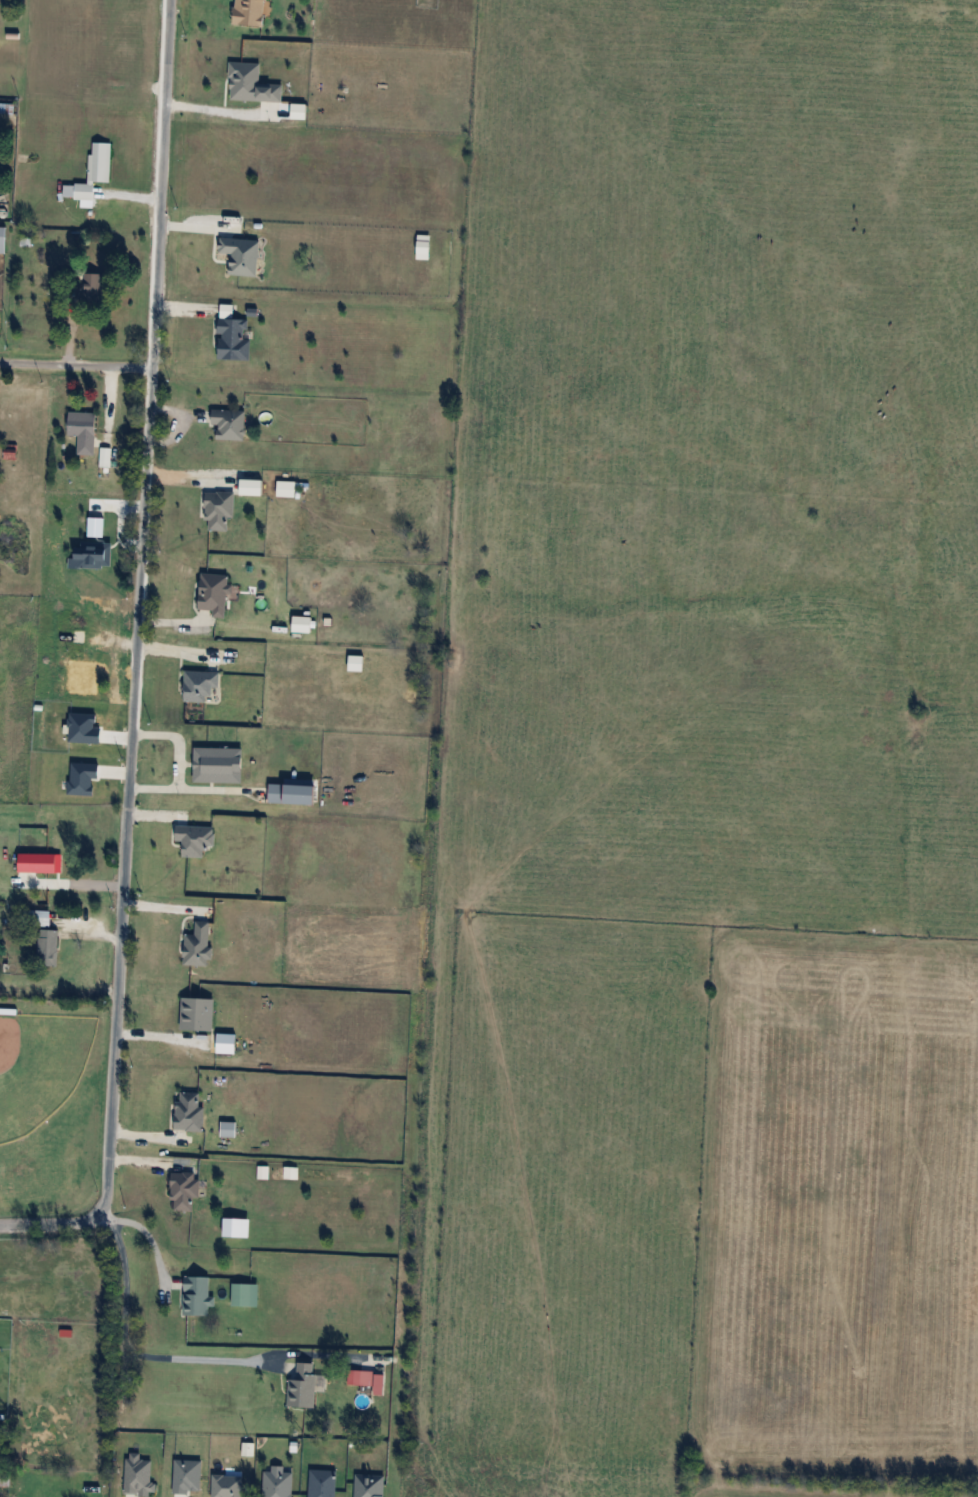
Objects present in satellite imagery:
building: (251, 12)
building: (251, 84)
road: (212, 109)
building: (96, 170)
building: (3, 239)
building: (94, 289)
building: (234, 340)
road: (75, 366)
building: (229, 424)
building: (84, 431)
building: (220, 510)
building: (95, 526)
building: (215, 593)
road: (137, 607)
building: (77, 669)
building: (36, 918)
building: (199, 945)
building: (48, 947)
building: (190, 1112)
building: (229, 1129)
building: (185, 1190)
road: (51, 1224)
road: (142, 1235)
building: (246, 1294)
building: (197, 1295)
road: (127, 1349)
building: (367, 1380)
building: (306, 1385)
building: (5, 1476)

